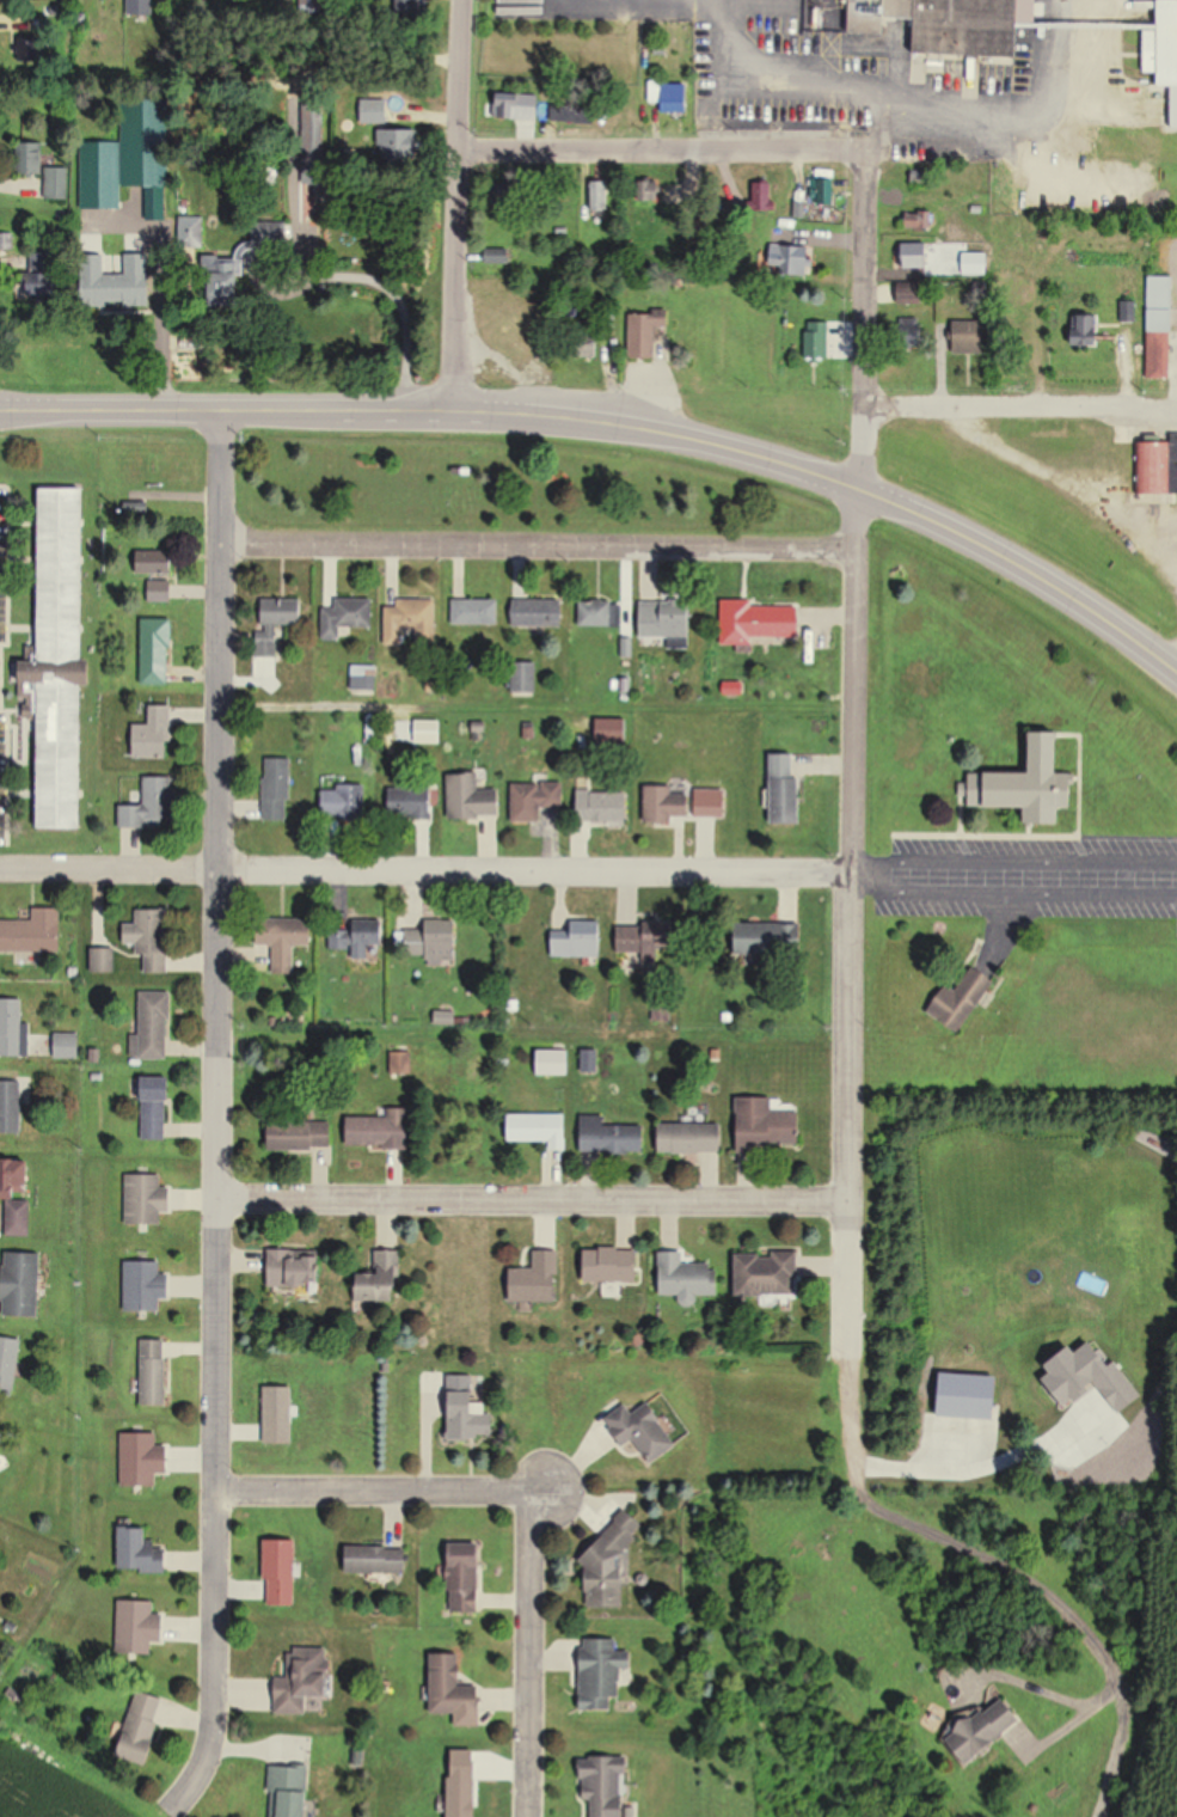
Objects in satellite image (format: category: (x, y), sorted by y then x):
building: (142, 6)
building: (948, 24)
building: (24, 45)
building: (1170, 55)
building: (655, 91)
building: (675, 108)
building: (527, 109)
building: (574, 112)
road: (937, 112)
building: (314, 120)
road: (862, 123)
road: (657, 146)
building: (147, 152)
building: (102, 175)
building: (59, 183)
building: (503, 196)
building: (765, 196)
road: (453, 206)
building: (919, 220)
building: (918, 256)
building: (792, 259)
road: (333, 275)
building: (106, 281)
building: (47, 292)
building: (913, 298)
road: (158, 313)
building: (1089, 330)
building: (645, 335)
building: (971, 337)
building: (913, 338)
building: (817, 344)
building: (1164, 344)
road: (1017, 399)
road: (617, 427)
building: (1158, 467)
road: (1060, 487)
road: (535, 545)
building: (155, 562)
building: (160, 591)
building: (477, 611)
building: (539, 611)
building: (600, 612)
building: (348, 617)
building: (666, 620)
building: (755, 620)
building: (276, 623)
building: (409, 625)
building: (157, 650)
road: (1172, 656)
building: (62, 659)
building: (364, 677)
building: (525, 677)
road: (317, 709)
building: (154, 733)
building: (429, 738)
road: (853, 752)
building: (1037, 784)
building: (277, 788)
building: (784, 791)
building: (472, 797)
building: (535, 799)
building: (344, 801)
building: (411, 802)
building: (709, 802)
building: (664, 803)
building: (152, 805)
building: (602, 806)
road: (1025, 862)
road: (425, 870)
road: (1011, 898)
building: (33, 932)
building: (356, 938)
building: (151, 940)
building: (767, 940)
building: (284, 941)
building: (643, 942)
building: (410, 943)
building: (576, 943)
building: (442, 948)
building: (109, 965)
building: (963, 1001)
building: (157, 1024)
building: (14, 1028)
building: (11, 1107)
building: (155, 1107)
road: (213, 1119)
building: (767, 1124)
building: (539, 1128)
building: (378, 1131)
building: (299, 1134)
building: (609, 1136)
building: (689, 1137)
building: (18, 1195)
building: (147, 1199)
road: (532, 1201)
building: (609, 1266)
building: (293, 1271)
building: (766, 1273)
building: (380, 1278)
building: (685, 1278)
building: (535, 1279)
building: (24, 1284)
building: (146, 1285)
building: (10, 1364)
building: (154, 1372)
building: (470, 1421)
building: (639, 1430)
building: (0, 1437)
road: (375, 1489)
building: (140, 1553)
building: (375, 1559)
building: (607, 1562)
road: (1019, 1564)
building: (280, 1572)
building: (465, 1579)
road: (532, 1653)
building: (597, 1672)
building: (305, 1681)
building: (453, 1687)
building: (143, 1727)
building: (987, 1730)
building: (602, 1786)
building: (292, 1791)

